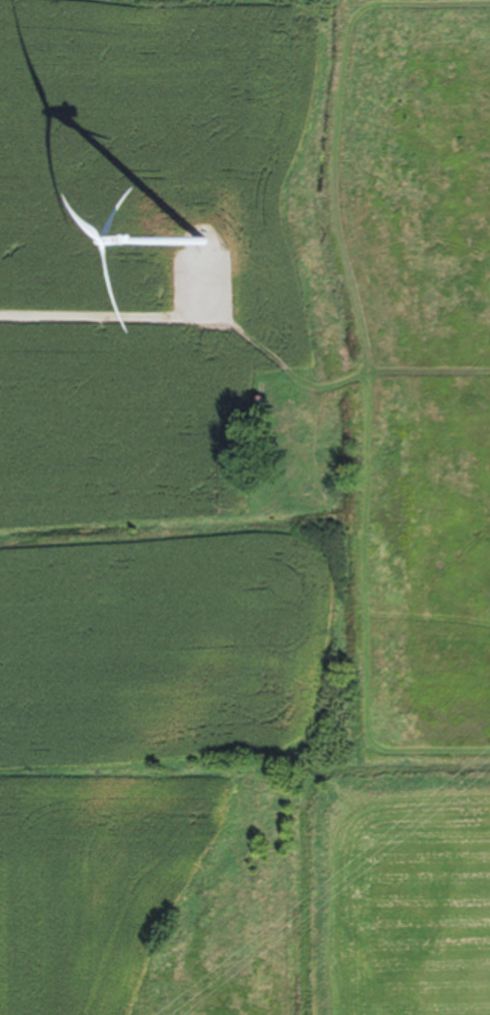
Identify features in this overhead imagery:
wind turbine: (199, 241)
road: (134, 324)

